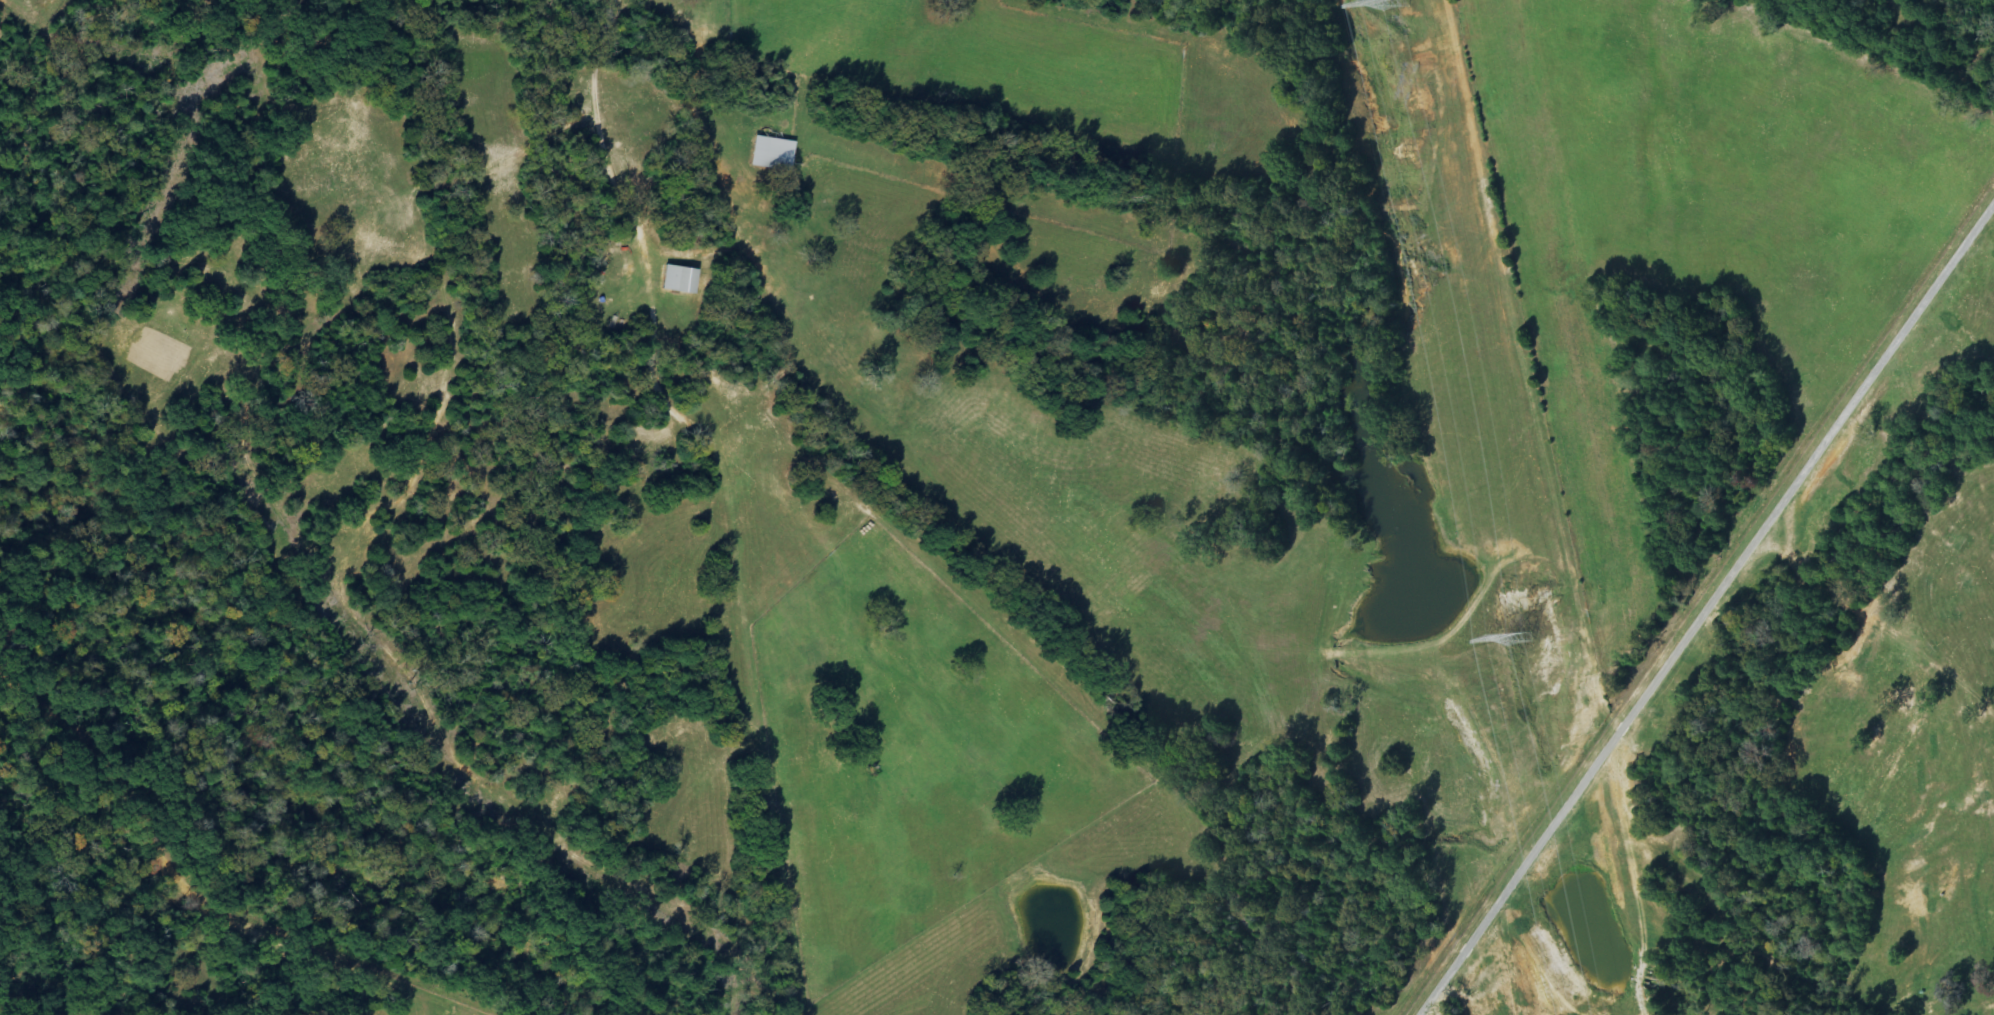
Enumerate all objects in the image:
power tower: (1395, 4)
building: (772, 155)
road: (1179, 182)
building: (678, 280)
power tower: (1516, 639)

